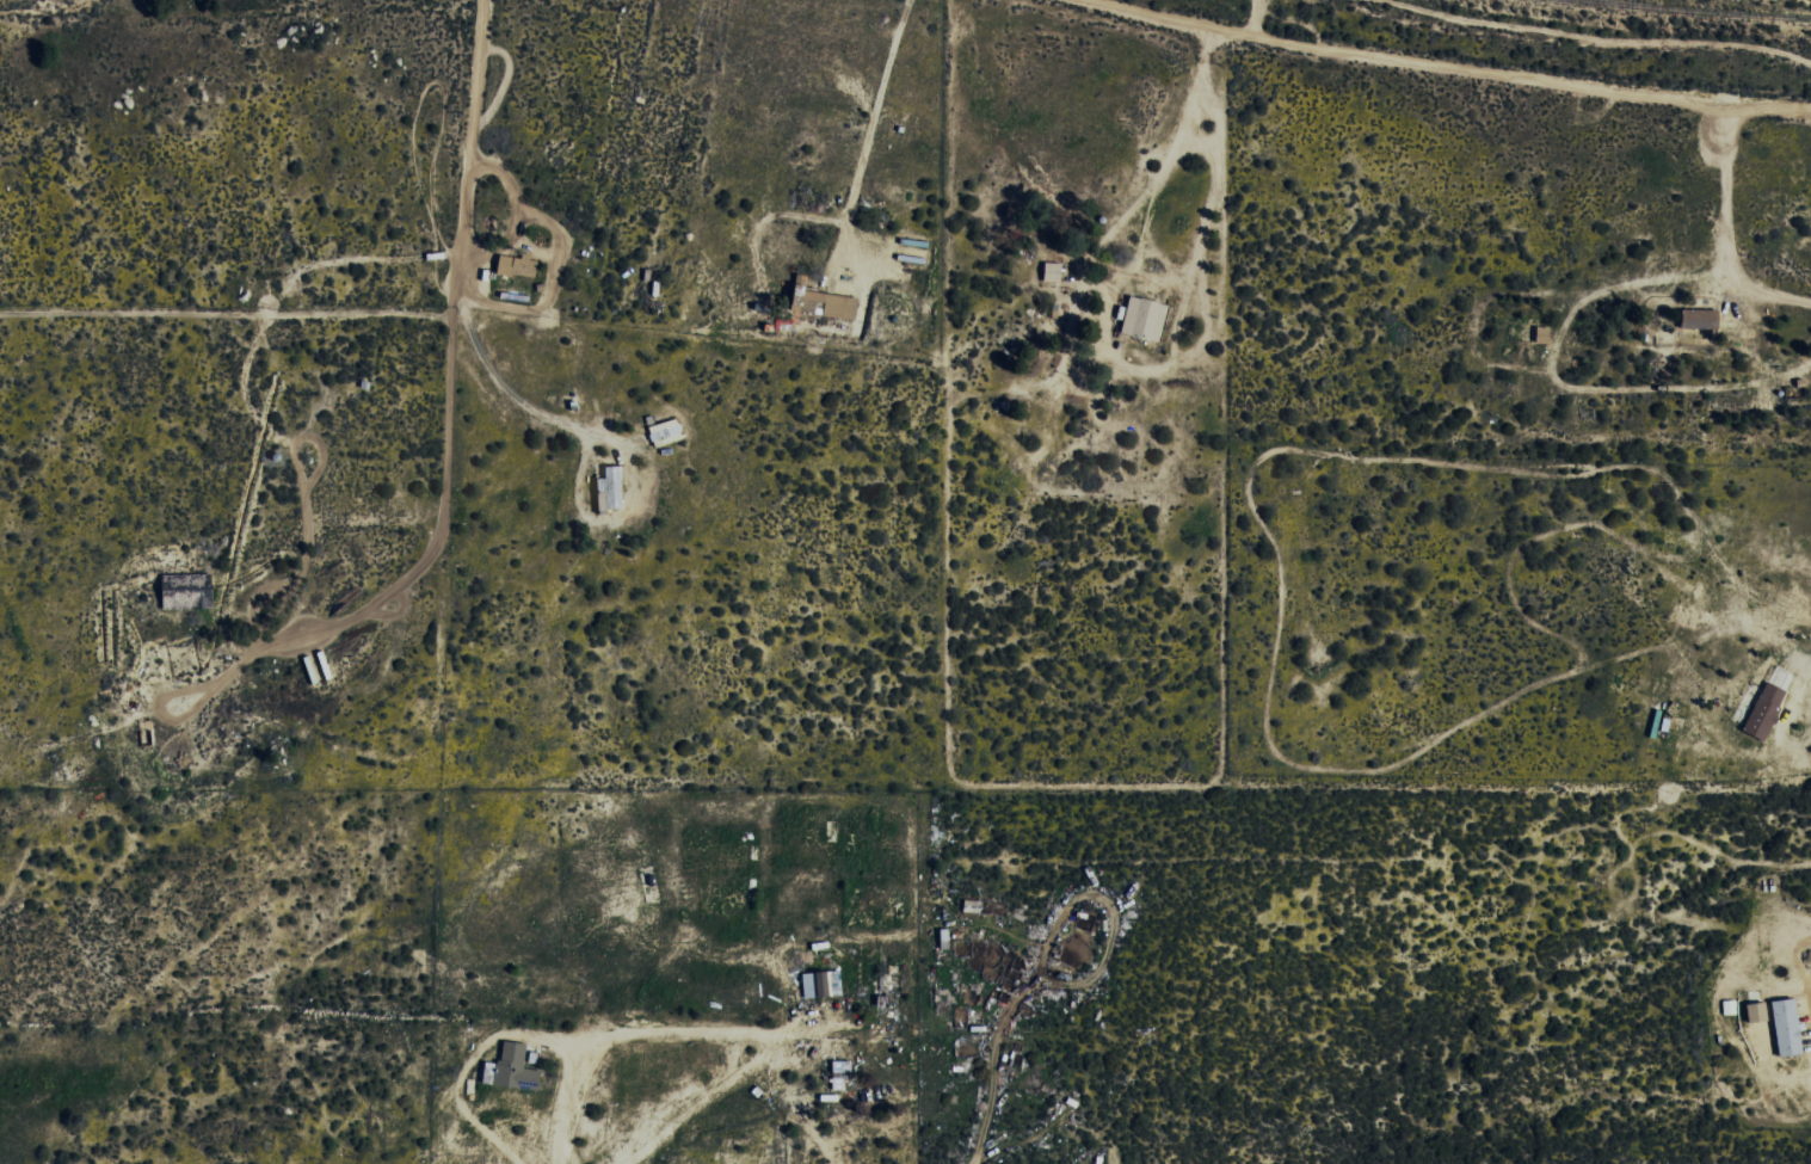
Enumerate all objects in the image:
railway: (1694, 11)
road: (1252, 18)
road: (6, 35)
road: (1442, 66)
building: (1054, 272)
building: (825, 303)
road: (417, 309)
building: (1145, 319)
building: (1701, 319)
building: (666, 432)
building: (611, 489)
building: (1766, 710)
building: (945, 938)
building: (823, 984)
building: (1729, 1008)
building: (1758, 1012)
building: (1788, 1028)
building: (513, 1068)
building: (843, 1070)

